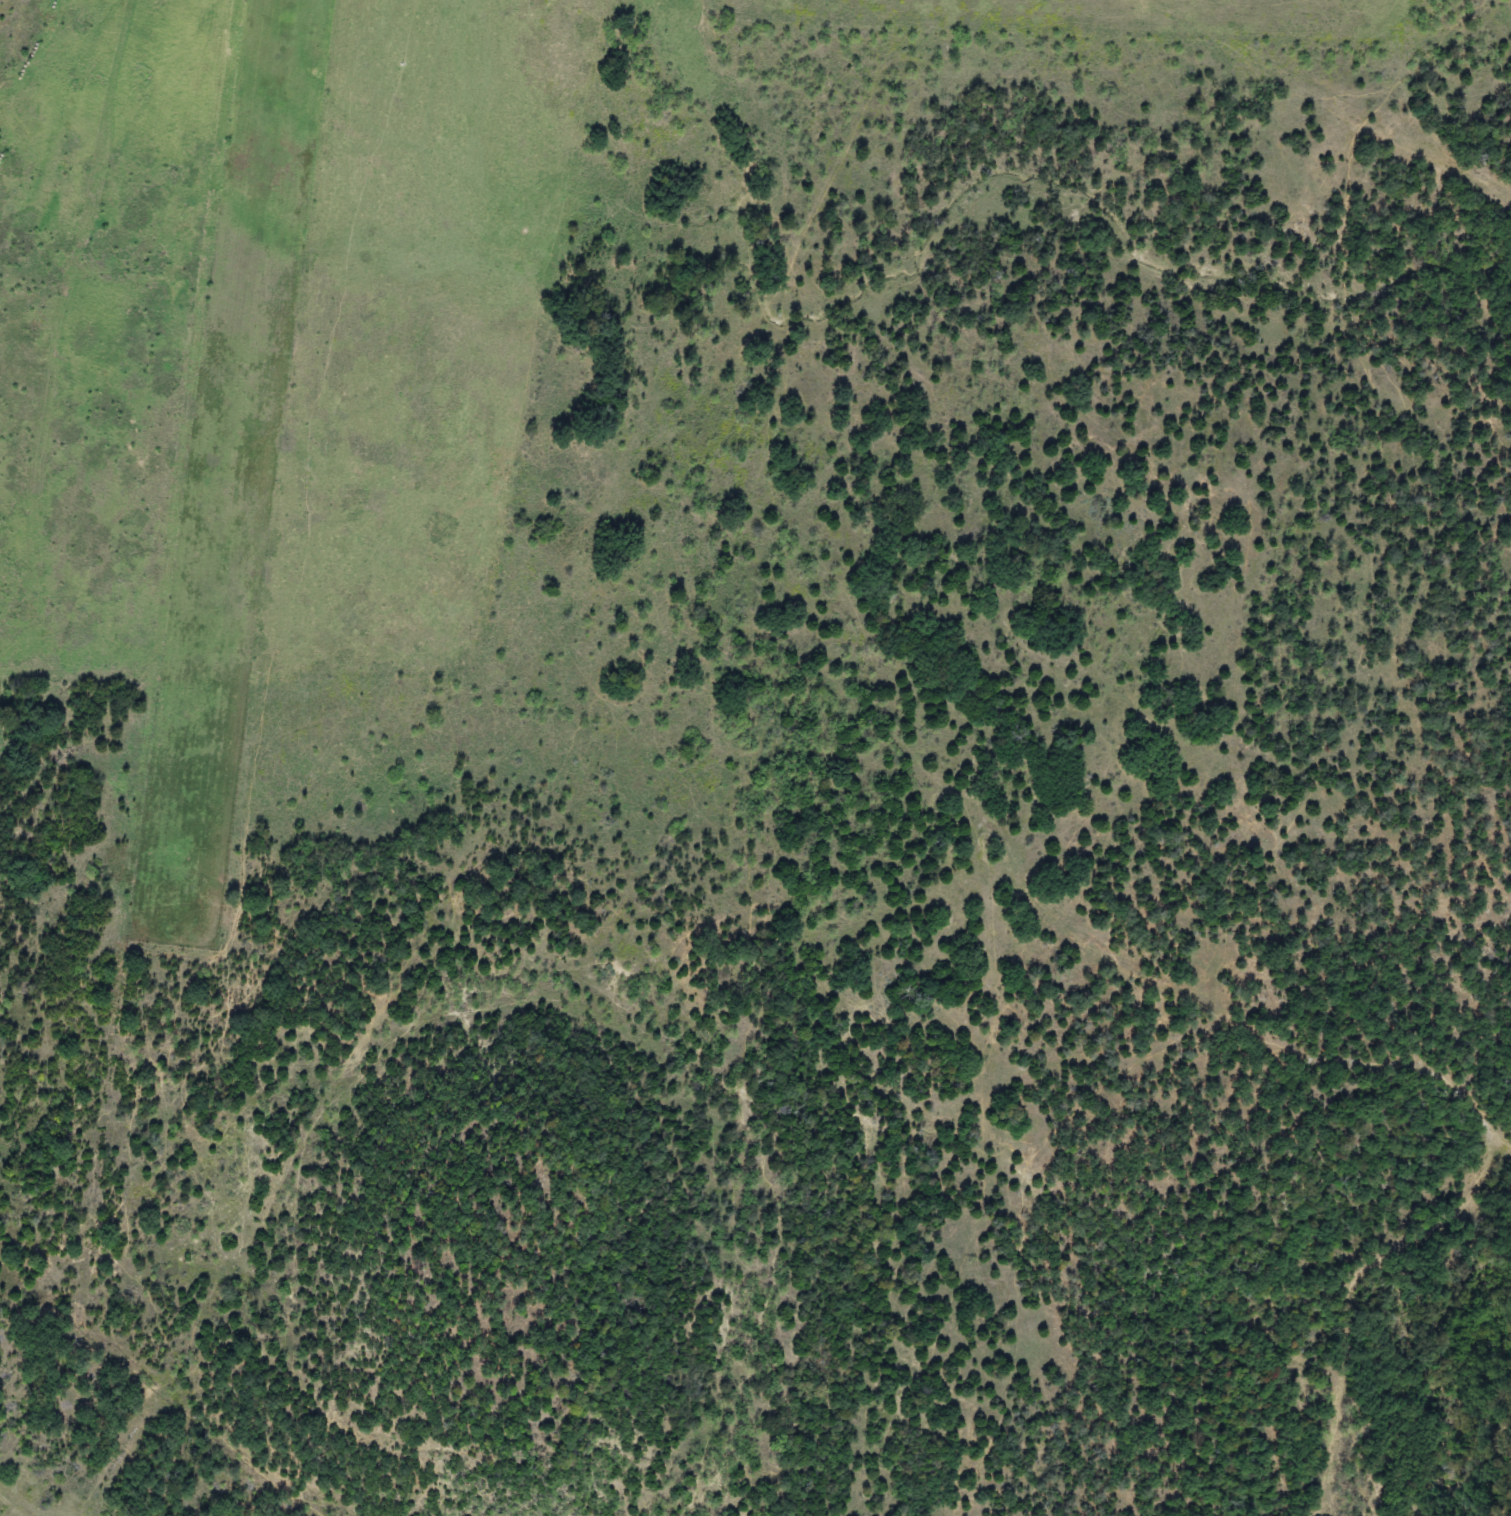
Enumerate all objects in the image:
airport: (300, 353)
airport runway: (240, 472)

